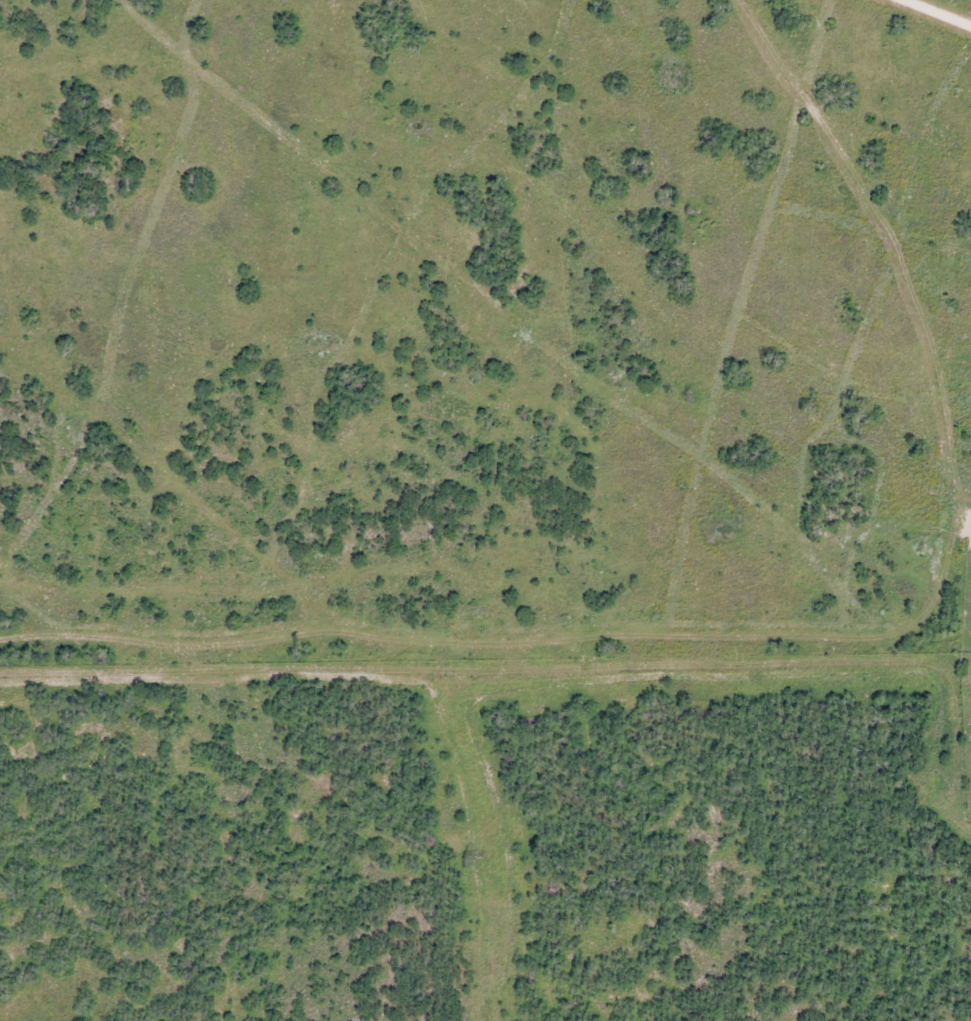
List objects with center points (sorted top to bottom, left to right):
road: (934, 14)
road: (494, 814)

